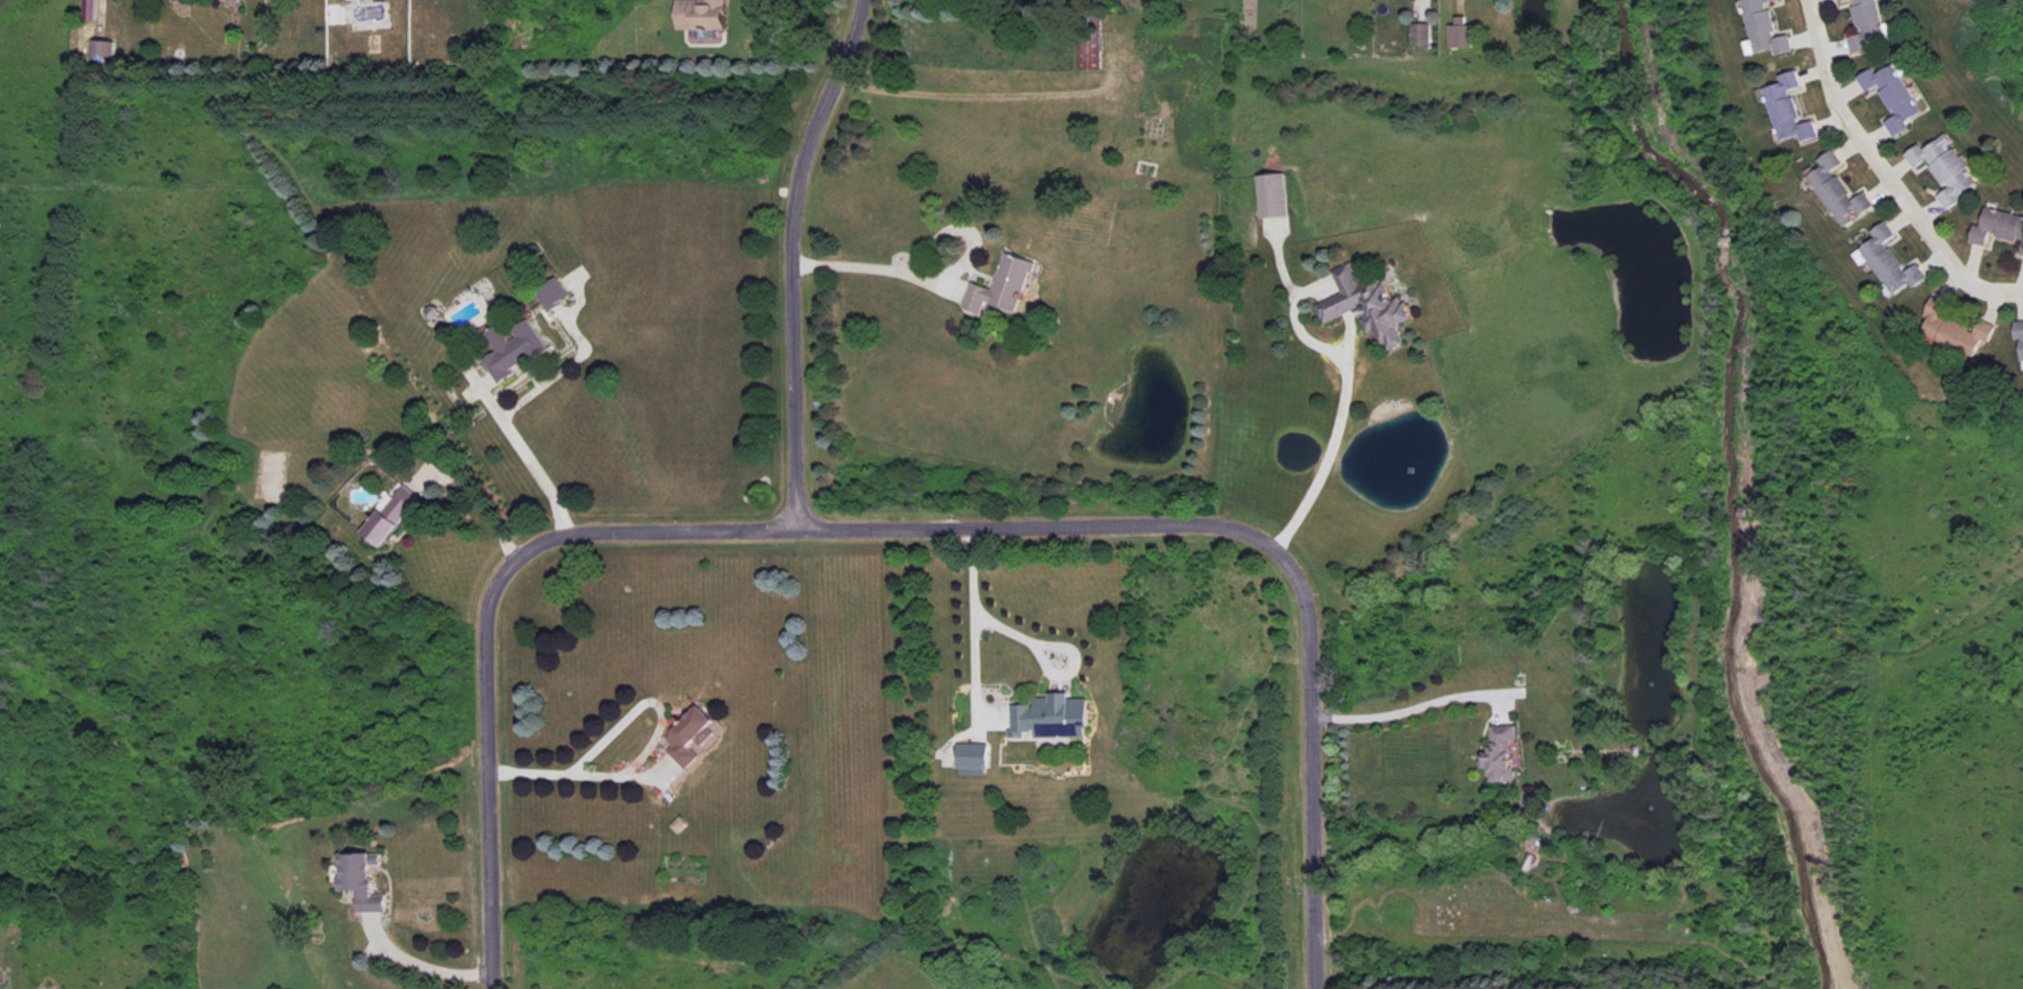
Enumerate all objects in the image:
building: (232, 0)
building: (1837, 1)
building: (1859, 6)
building: (91, 9)
road: (97, 10)
building: (1749, 10)
building: (696, 13)
building: (1454, 29)
building: (1862, 32)
building: (1414, 33)
building: (1763, 38)
building: (98, 44)
building: (1089, 51)
building: (1878, 77)
building: (1777, 90)
road: (966, 95)
building: (1898, 105)
building: (1791, 124)
building: (1929, 152)
building: (1822, 173)
road: (1884, 173)
building: (1950, 182)
building: (1271, 195)
building: (1845, 201)
building: (1983, 223)
building: (2012, 232)
building: (1874, 241)
road: (792, 257)
road: (872, 269)
building: (1894, 272)
building: (995, 284)
building: (1360, 306)
building: (1931, 318)
building: (511, 328)
building: (1964, 332)
building: (2015, 335)
road: (1327, 453)
road: (525, 454)
road: (477, 505)
building: (386, 513)
road: (900, 527)
road: (972, 613)
road: (1043, 663)
road: (1407, 710)
building: (1044, 717)
building: (690, 734)
road: (646, 750)
building: (1494, 756)
building: (972, 759)
building: (354, 883)
road: (420, 963)

